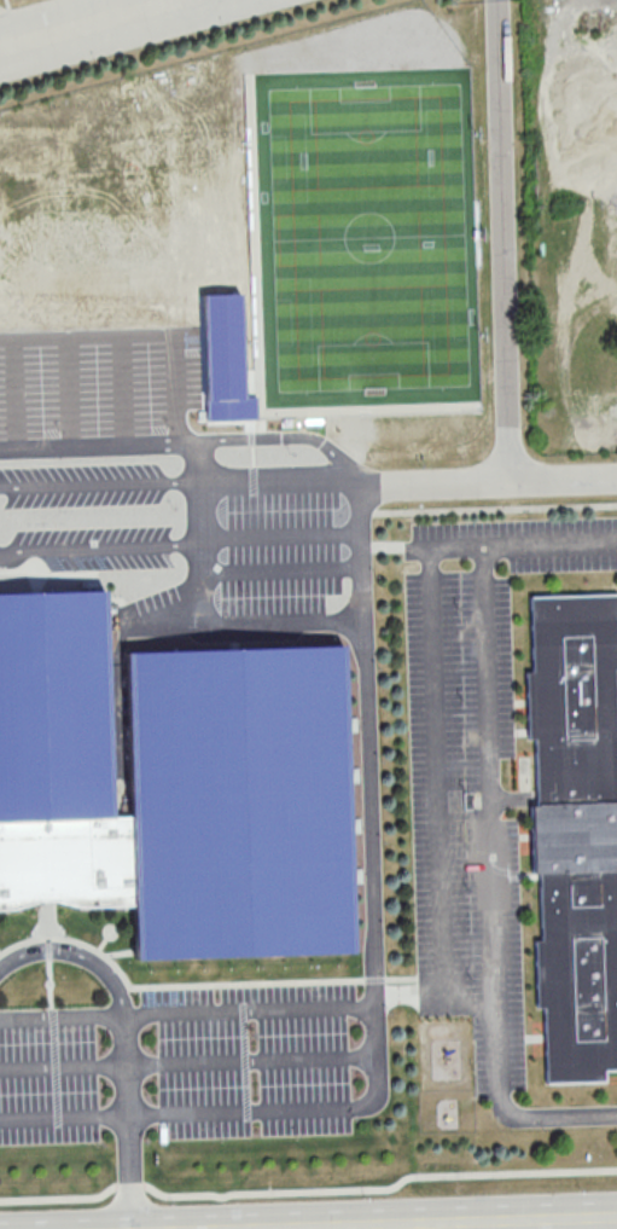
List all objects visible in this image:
road: (63, 16)
park: (371, 234)
road: (504, 242)
road: (141, 332)
road: (122, 388)
road: (71, 390)
road: (14, 392)
road: (187, 441)
road: (179, 481)
road: (488, 483)
road: (202, 492)
road: (360, 499)
road: (489, 510)
road: (283, 539)
road: (101, 546)
road: (284, 569)
road: (241, 627)
road: (440, 772)
building: (179, 796)
road: (493, 817)
building: (580, 836)
road: (76, 953)
road: (378, 996)
road: (252, 1010)
road: (113, 1015)
road: (255, 1063)
road: (64, 1068)
road: (133, 1171)
road: (309, 1192)
road: (426, 1222)

